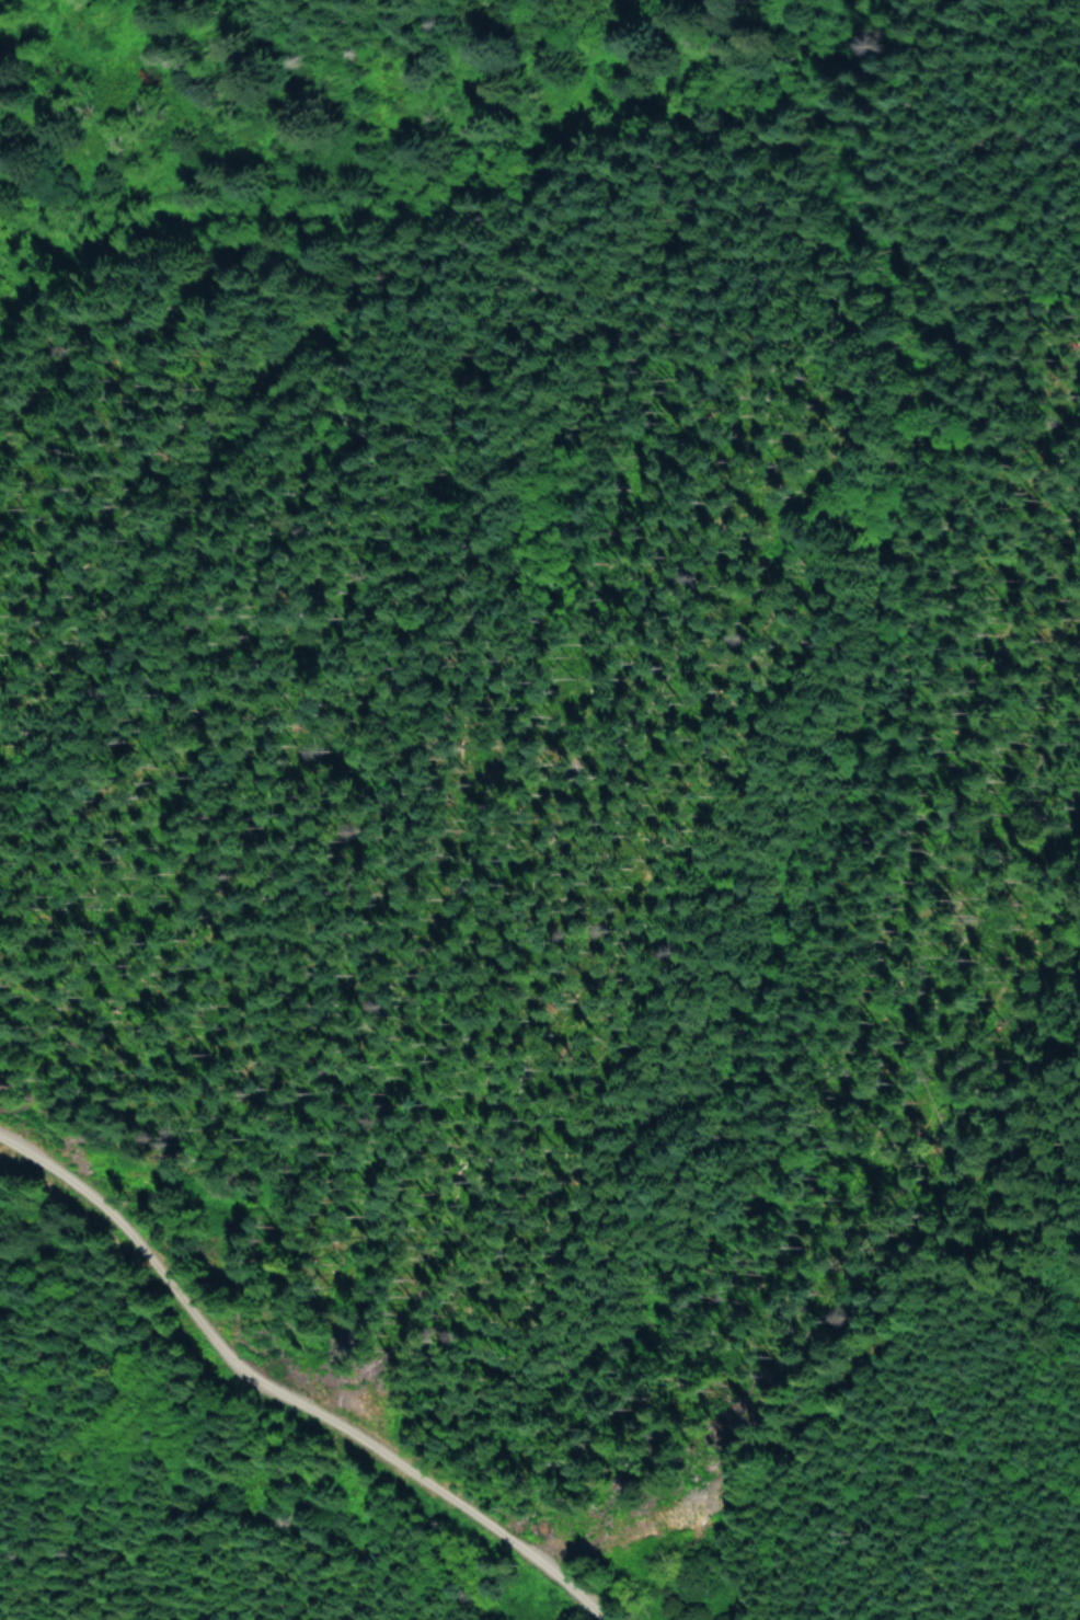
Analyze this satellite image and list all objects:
road: (280, 1393)

